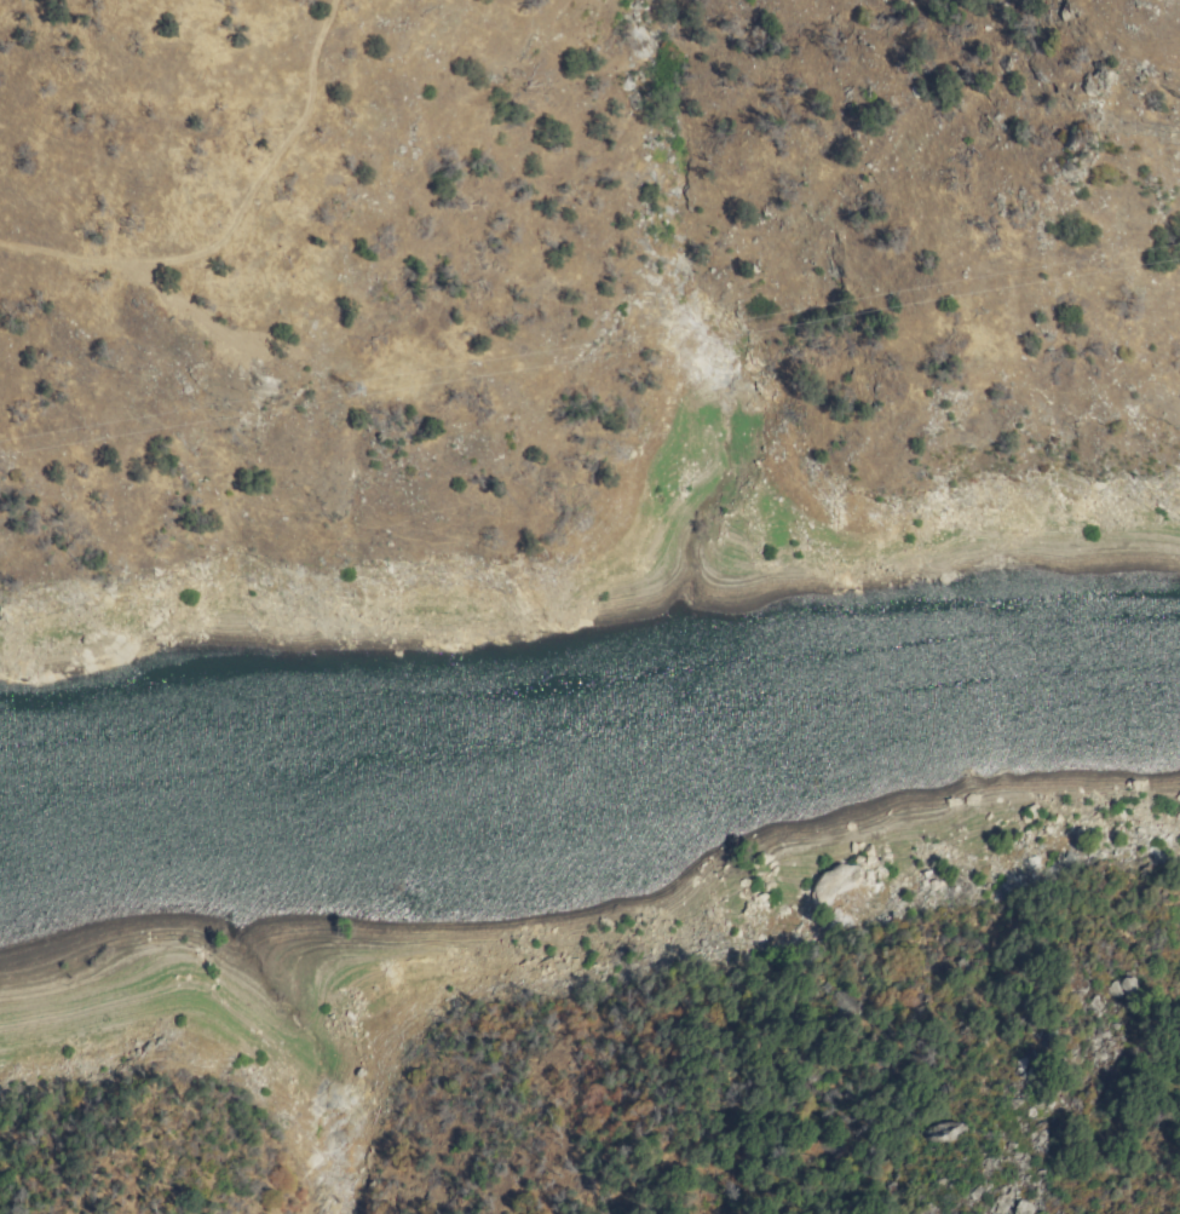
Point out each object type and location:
power tower: (344, 390)
river: (718, 777)
river: (125, 887)

